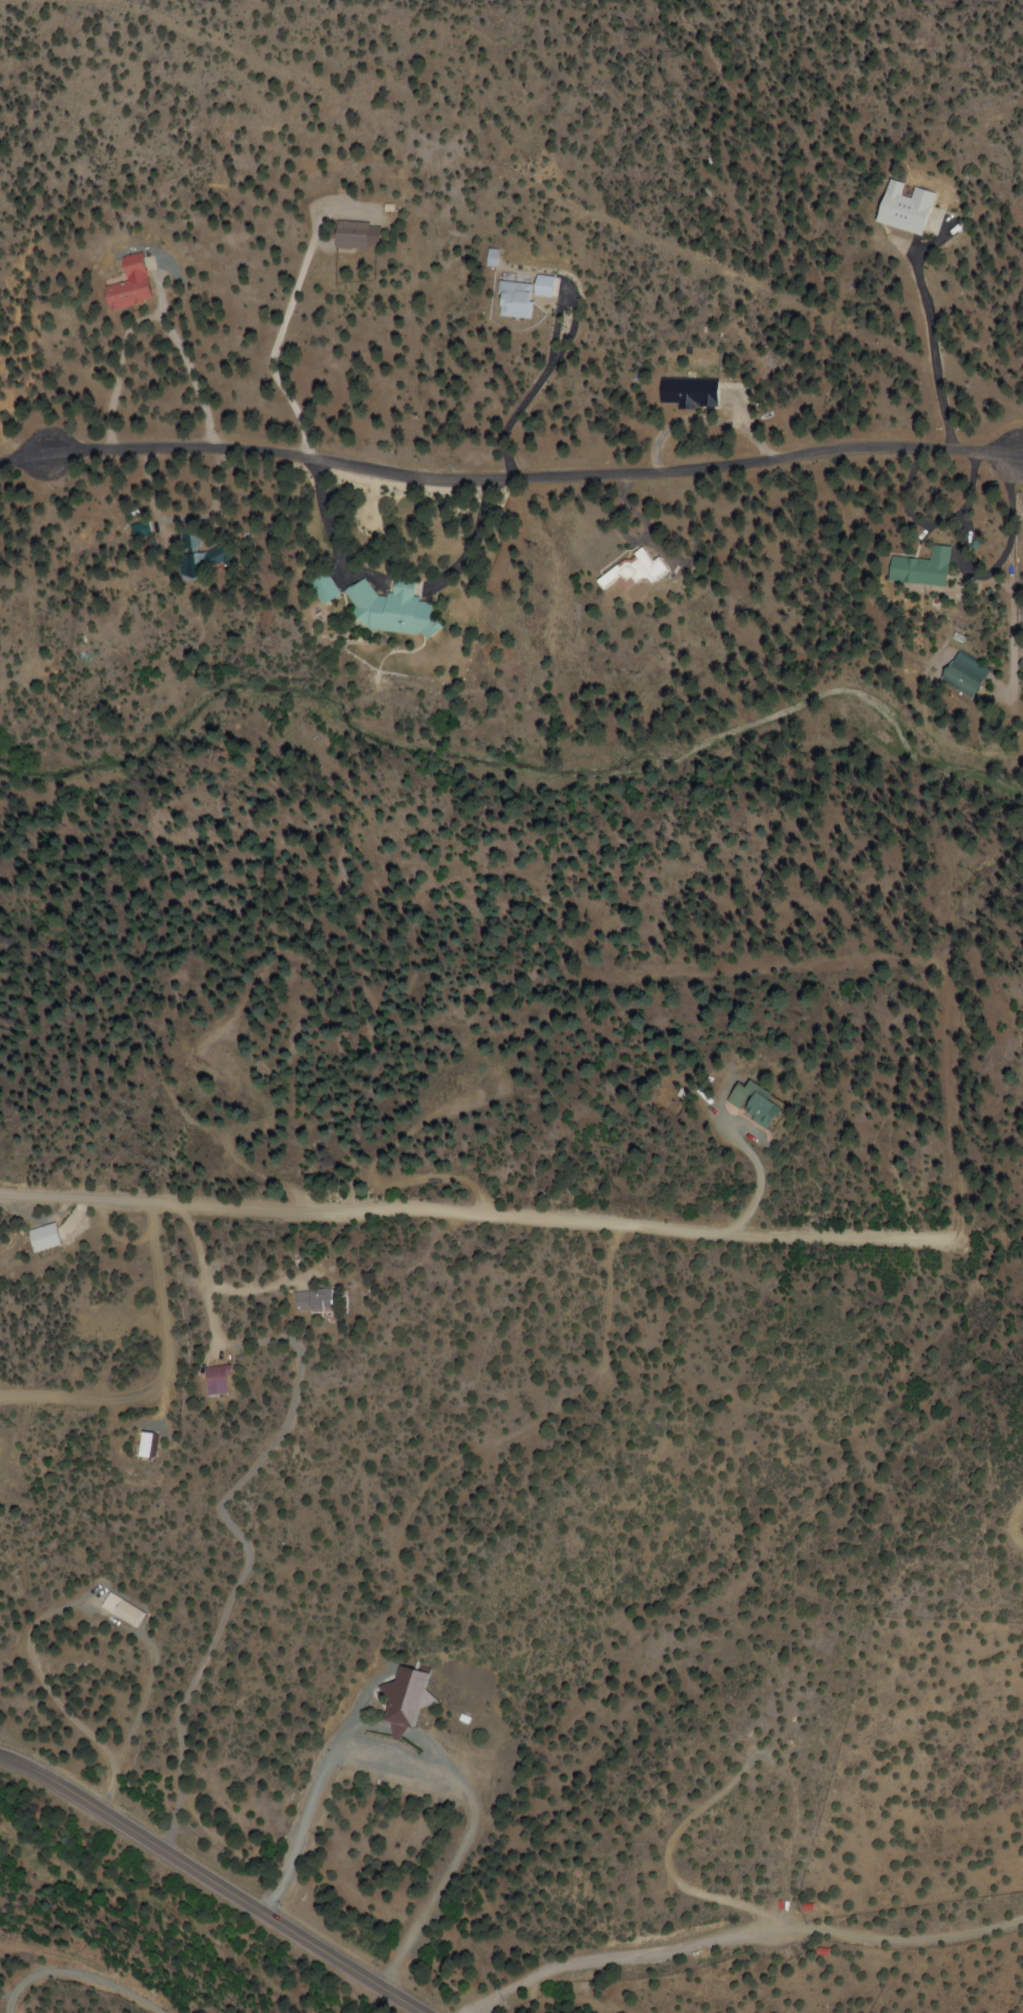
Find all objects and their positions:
building: (899, 206)
building: (346, 234)
building: (124, 285)
building: (516, 295)
building: (686, 392)
building: (193, 560)
building: (914, 568)
building: (625, 570)
building: (317, 588)
building: (384, 608)
building: (753, 1104)
road: (868, 1141)
road: (438, 1210)
building: (54, 1237)
building: (311, 1300)
building: (213, 1380)
building: (157, 1444)
building: (127, 1611)
building: (403, 1700)
road: (214, 1882)

